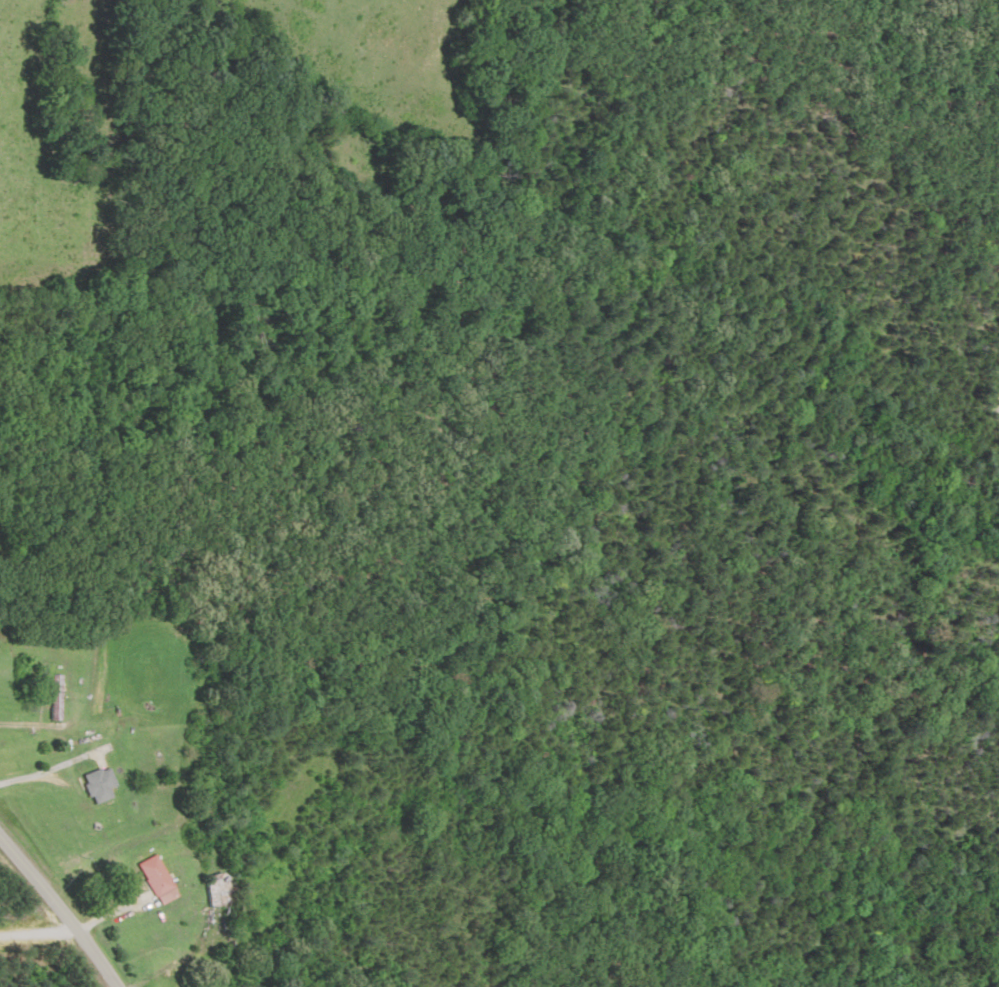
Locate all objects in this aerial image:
building: (61, 697)
building: (101, 784)
building: (155, 880)
building: (213, 889)
road: (67, 897)

